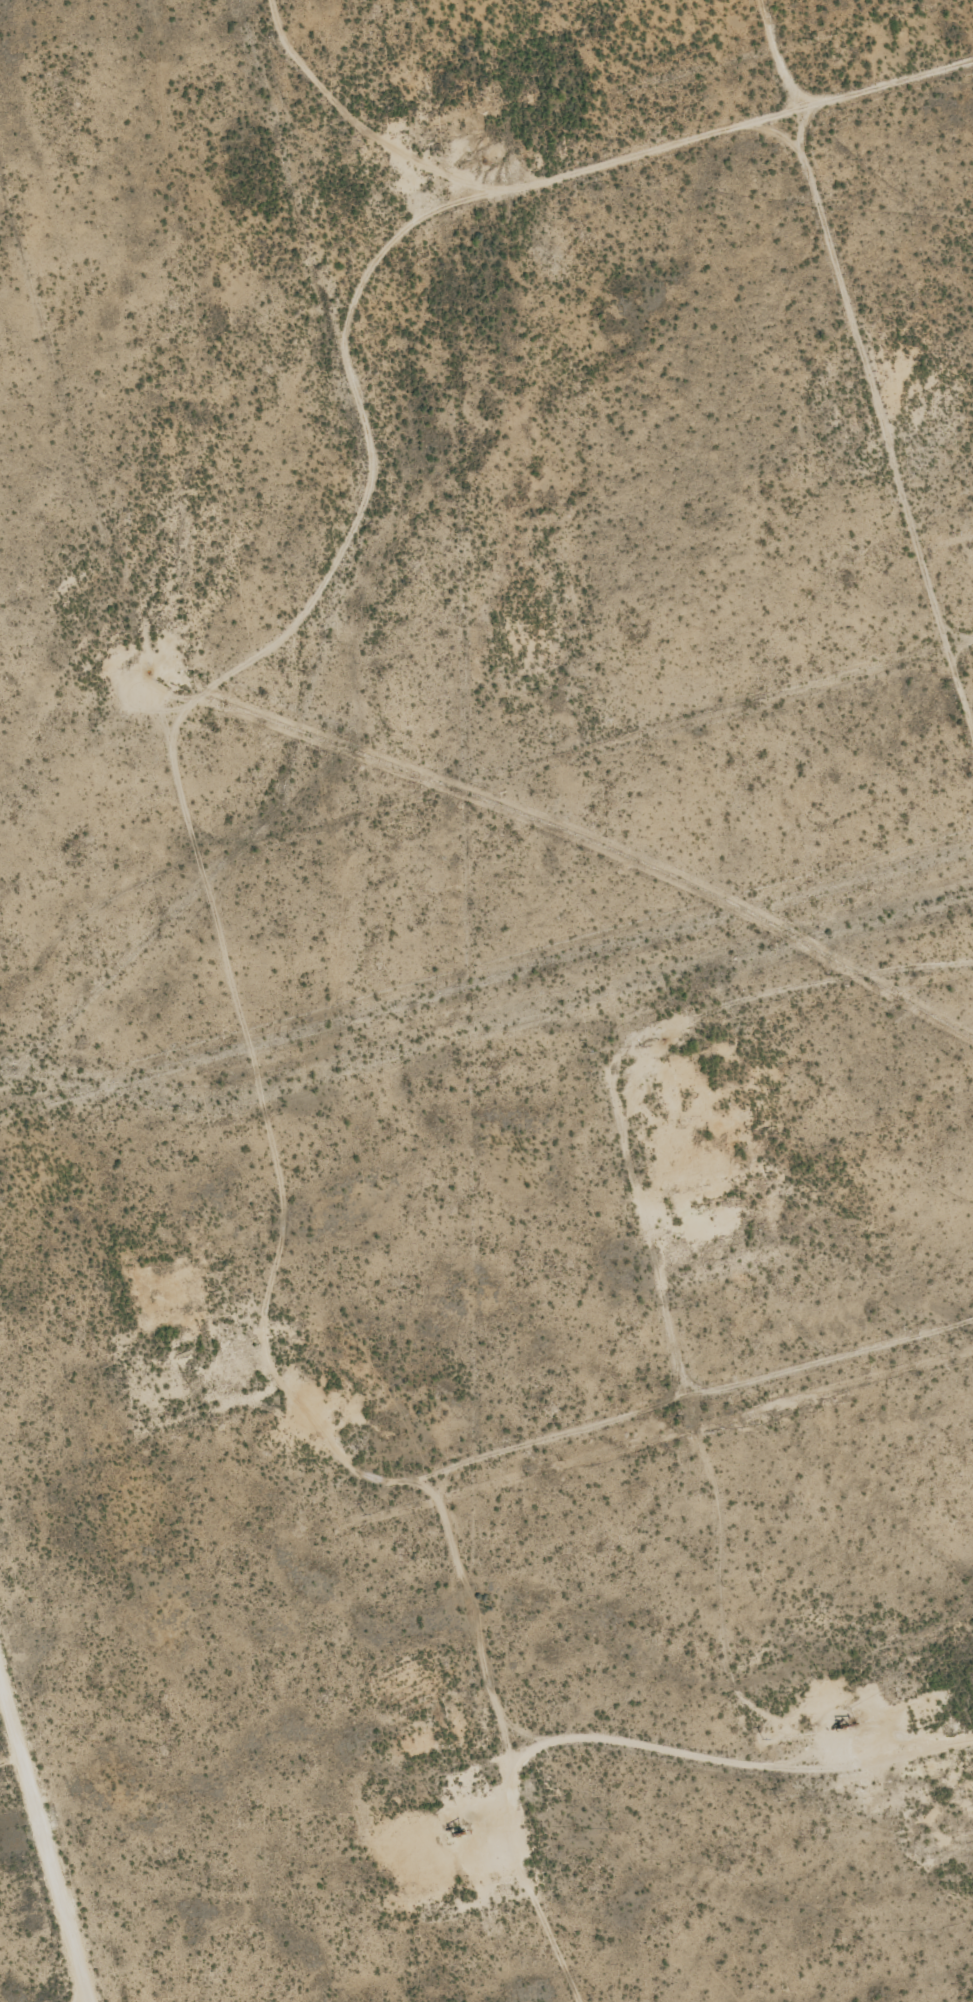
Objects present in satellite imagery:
road: (859, 106)
road: (942, 1740)
road: (47, 1861)

